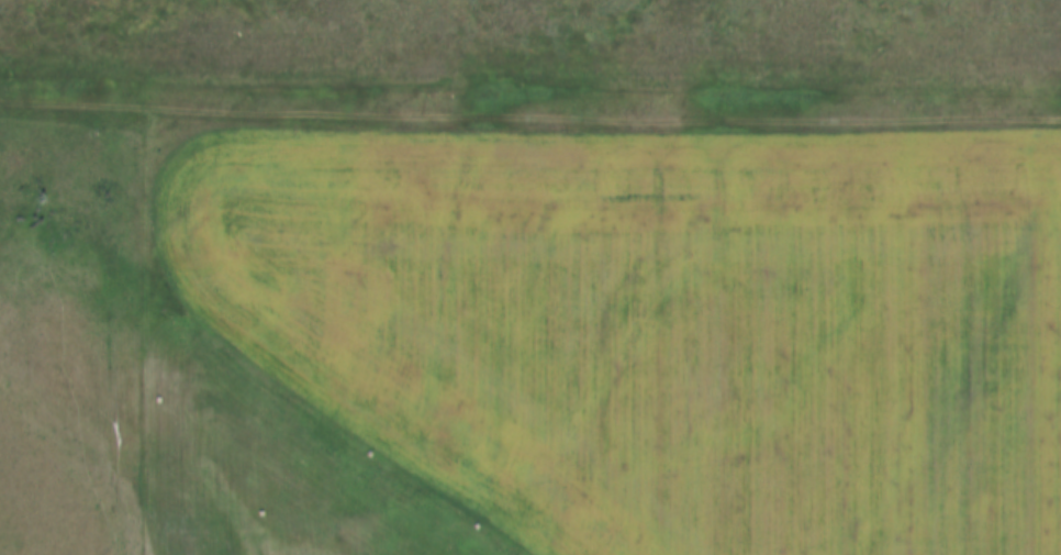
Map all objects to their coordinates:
road: (530, 101)
road: (116, 478)

